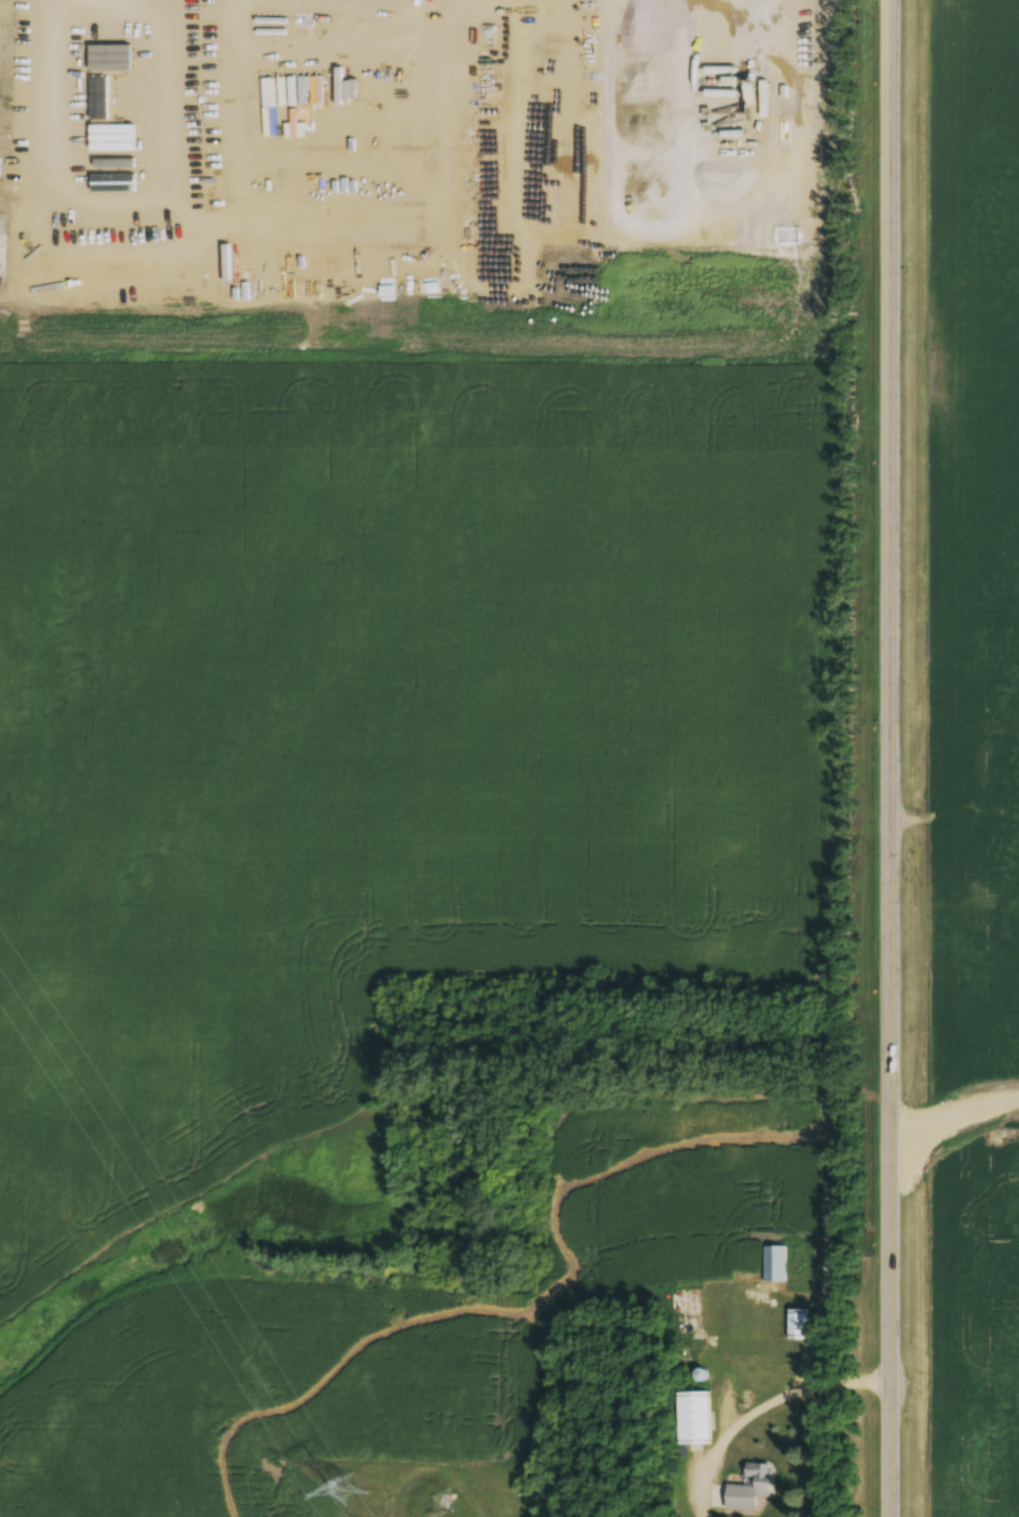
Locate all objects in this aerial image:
road: (928, 758)
road: (973, 1104)
building: (774, 1264)
building: (742, 1322)
building: (796, 1325)
road: (807, 1383)
building: (691, 1419)
building: (747, 1489)
power tower: (338, 1491)

